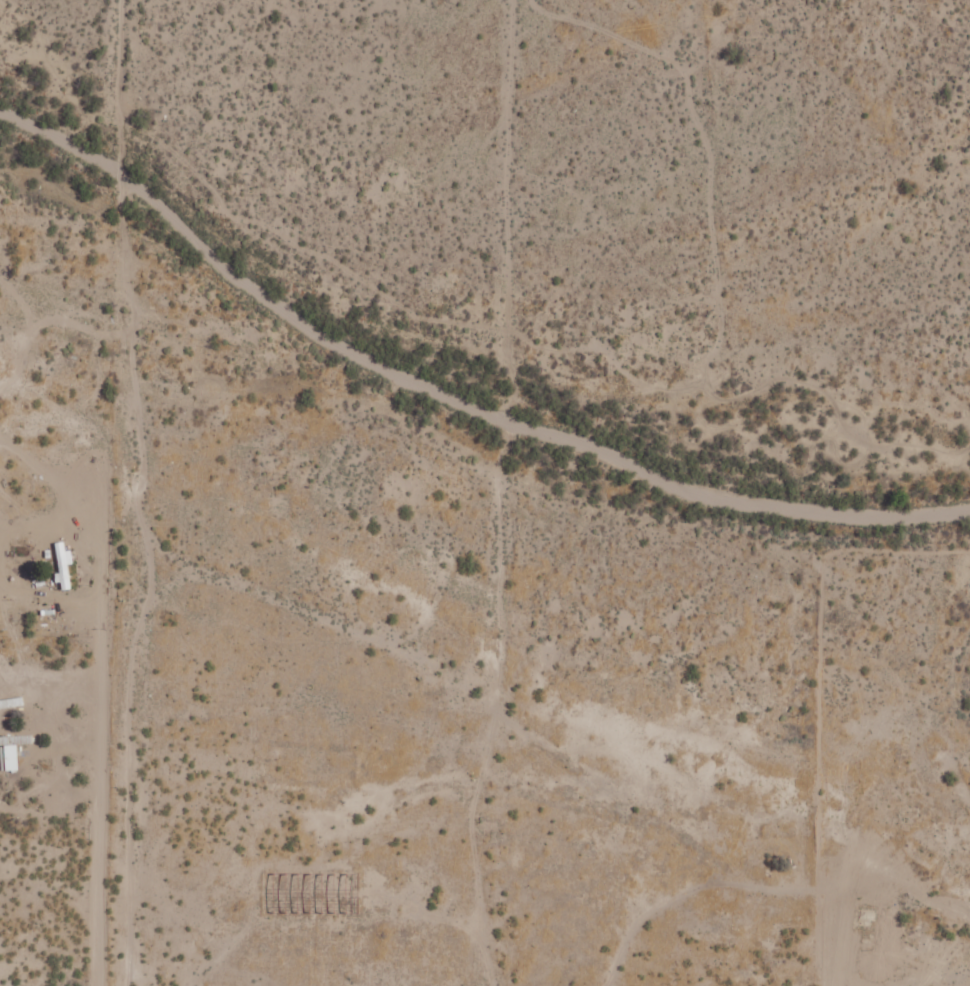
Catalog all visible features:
river: (457, 381)
building: (63, 564)
building: (11, 750)

